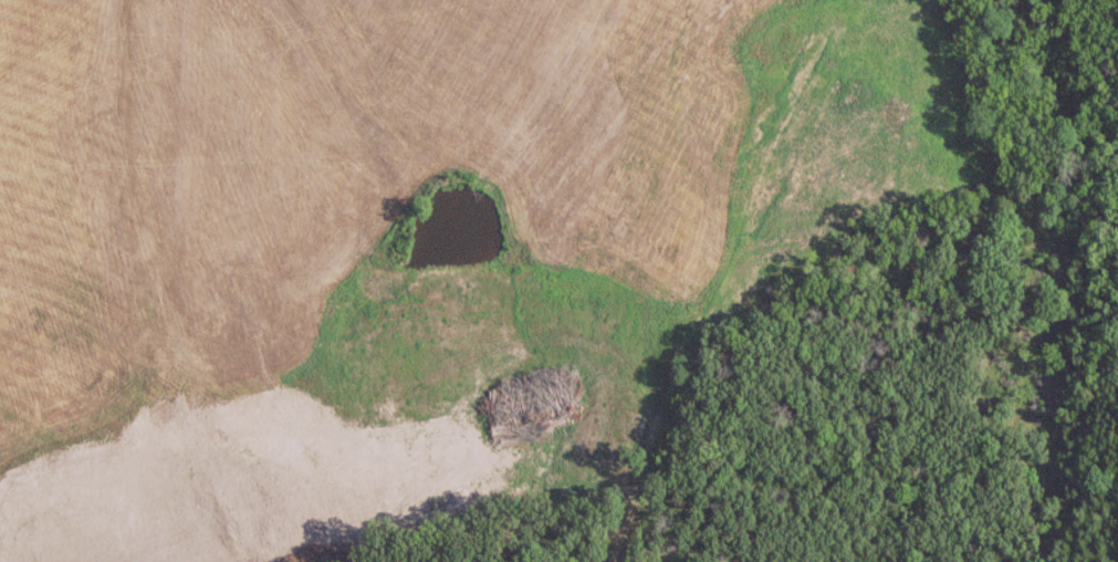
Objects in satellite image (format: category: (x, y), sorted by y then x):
crop: (60, 125)

